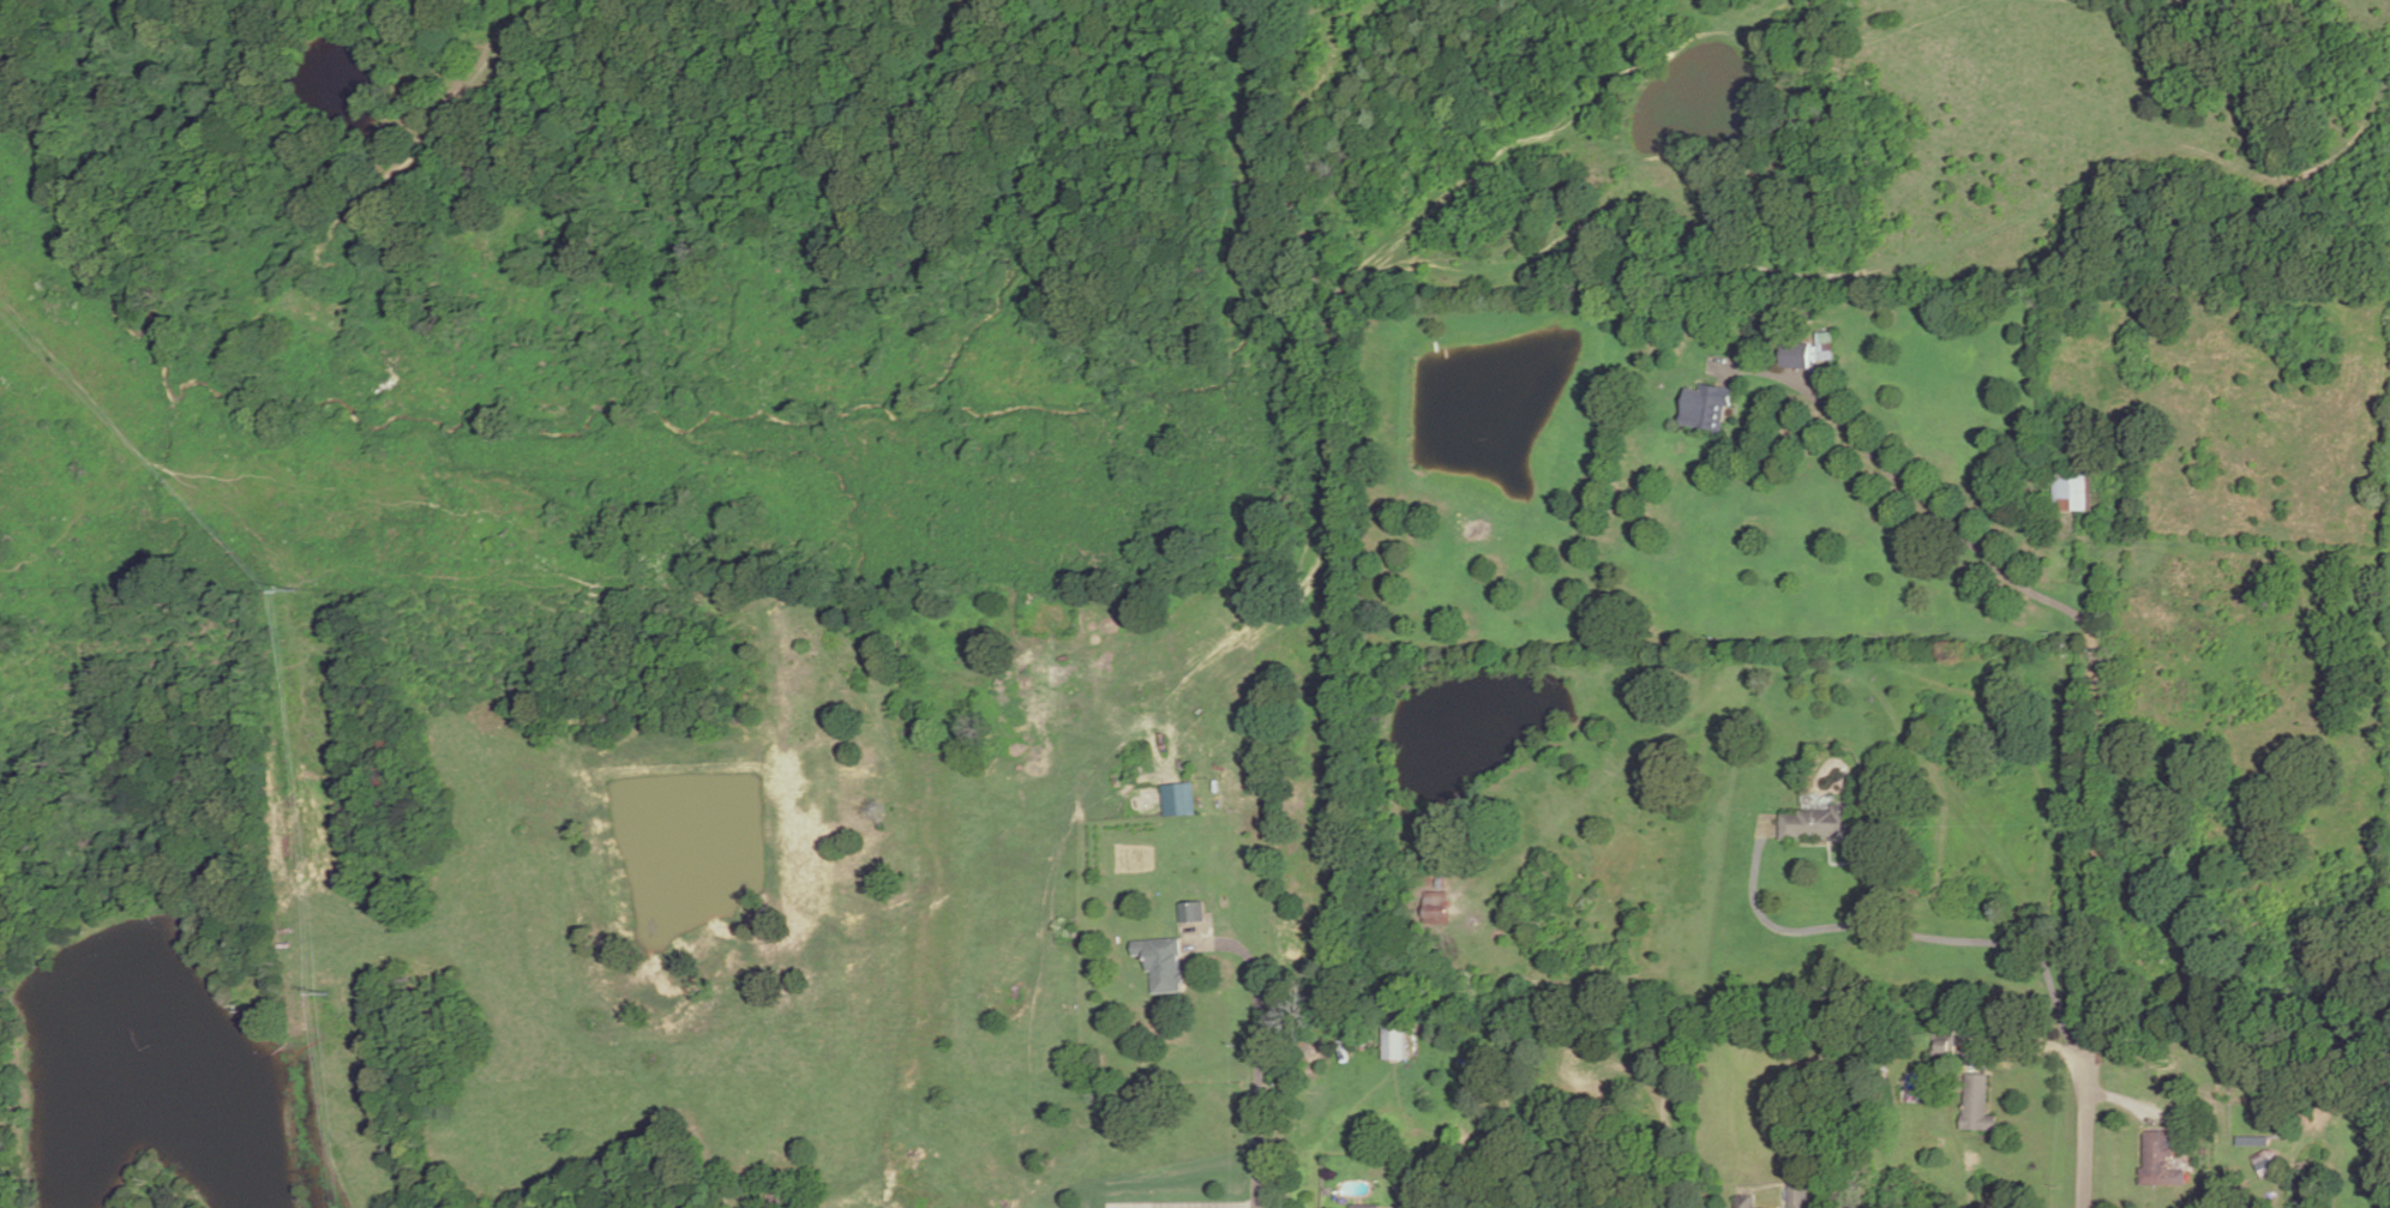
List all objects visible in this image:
road: (301, 271)
building: (1826, 347)
building: (1795, 355)
building: (1707, 408)
building: (2072, 489)
power tower: (296, 591)
building: (1178, 798)
building: (1820, 824)
road: (1837, 864)
road: (1873, 891)
building: (1436, 909)
building: (1191, 912)
road: (1909, 934)
building: (1161, 963)
building: (1559, 967)
power tower: (332, 996)
road: (2025, 1041)
building: (1392, 1042)
building: (1941, 1047)
road: (1257, 1051)
road: (2125, 1102)
building: (1976, 1105)
road: (2084, 1134)
road: (2139, 1142)
building: (2160, 1162)
building: (1798, 1196)
building: (1746, 1202)
road: (1184, 1207)
building: (1364, 1207)

